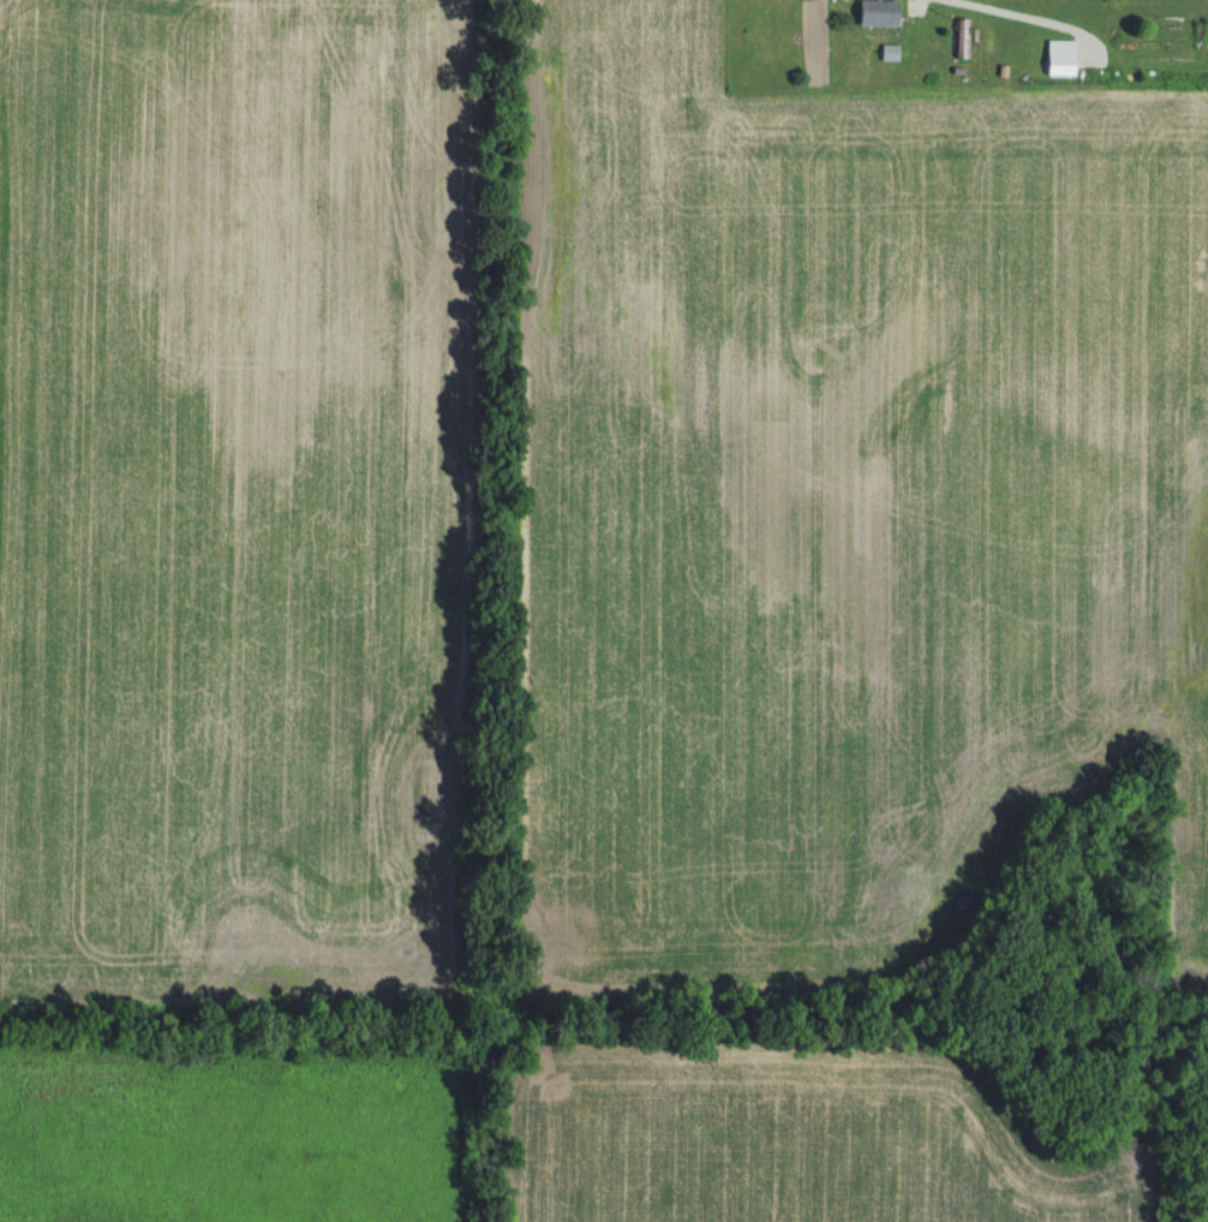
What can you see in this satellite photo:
building: (880, 16)
building: (1064, 67)

